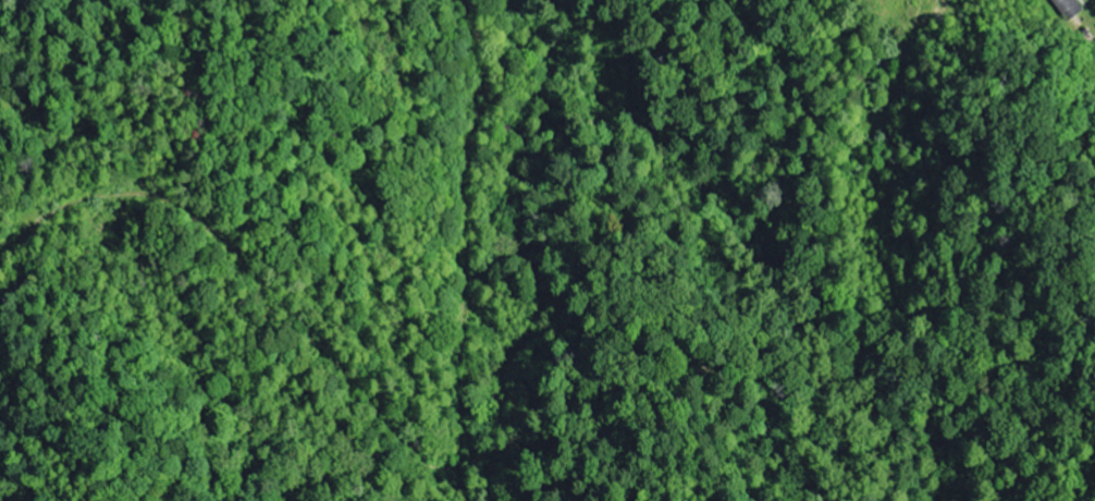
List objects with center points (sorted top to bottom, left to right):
building: (1068, 9)

